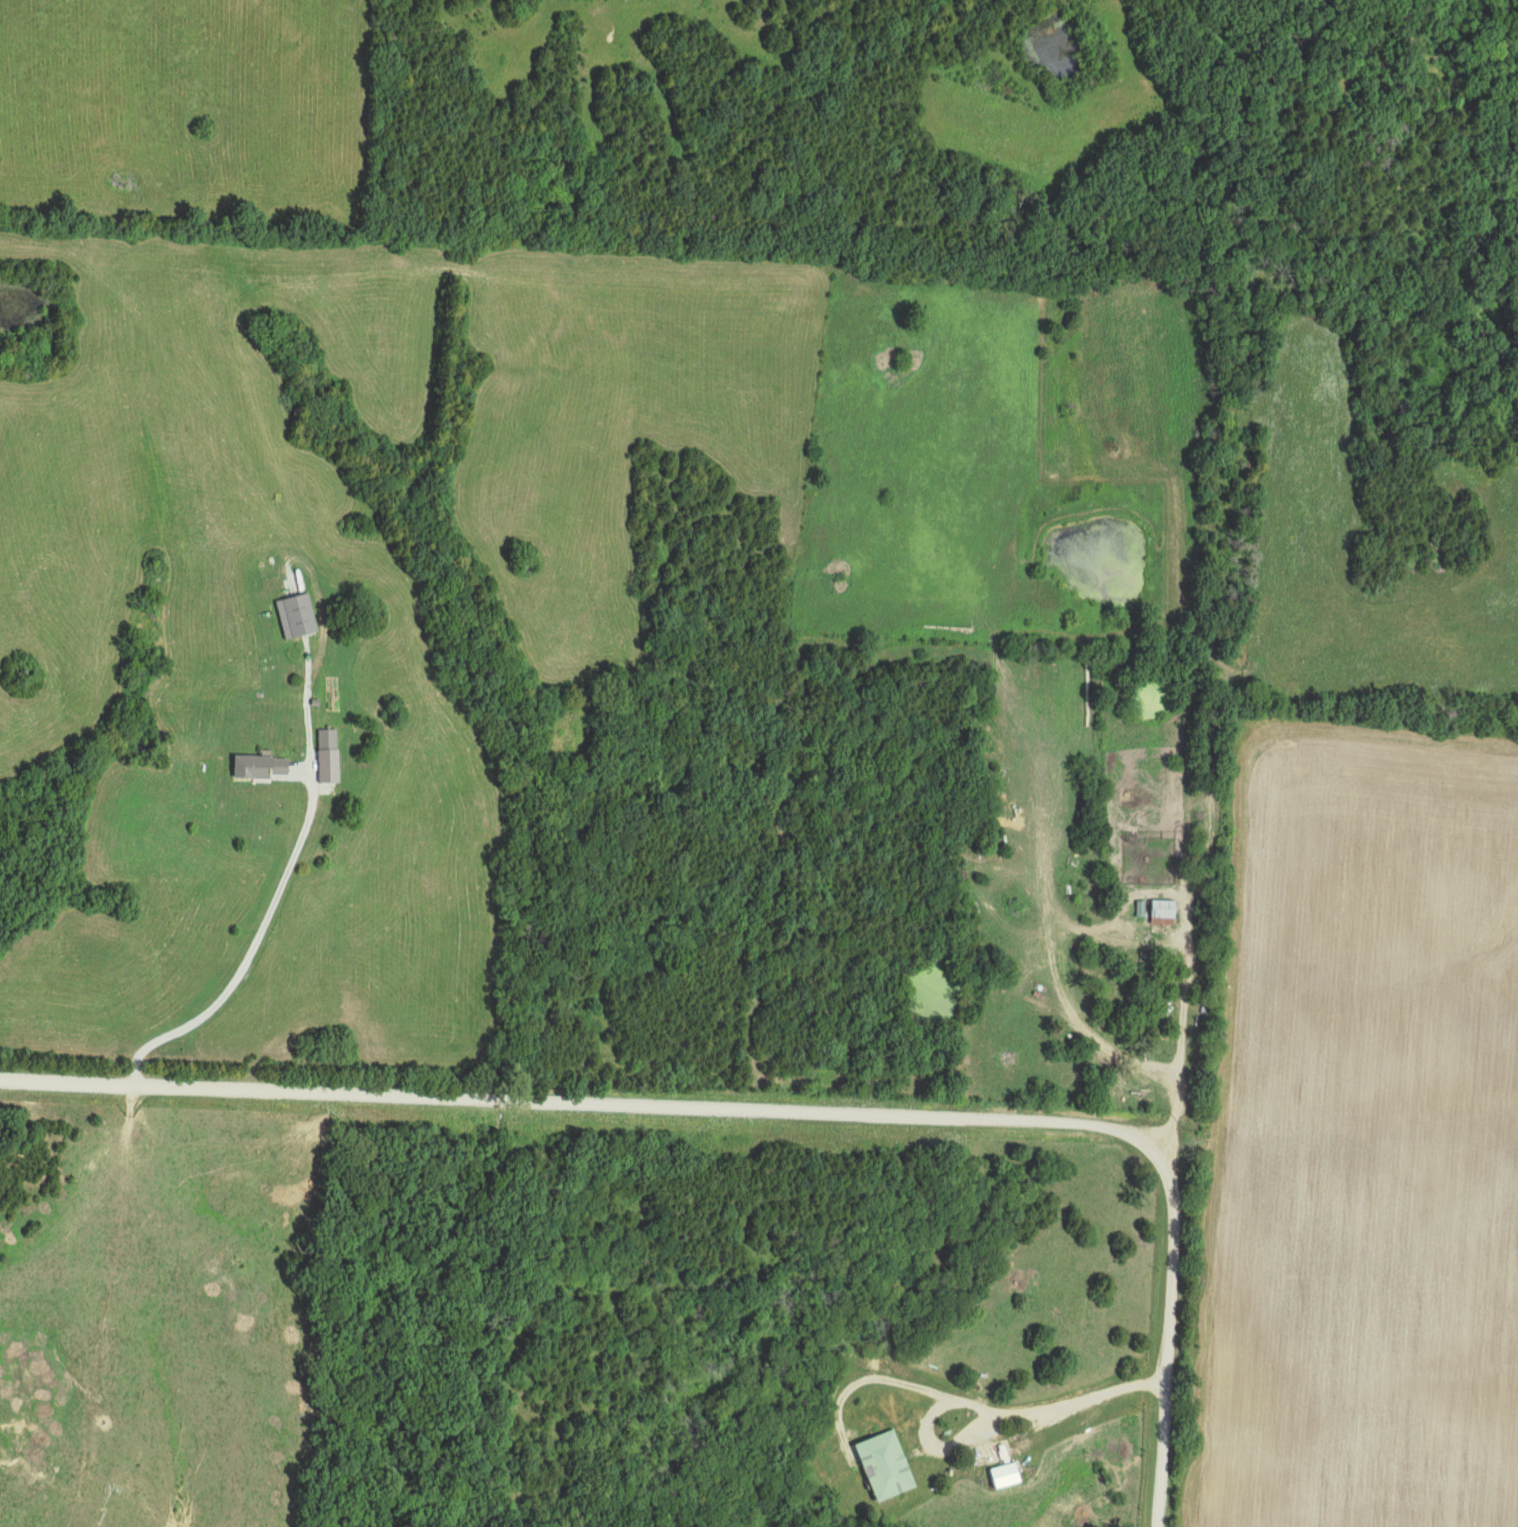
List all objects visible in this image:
building: (297, 617)
road: (1393, 728)
building: (328, 740)
building: (261, 769)
building: (1164, 914)
road: (1187, 937)
road: (246, 956)
road: (1107, 1008)
road: (586, 1104)
road: (1169, 1342)
road: (1046, 1409)
building: (886, 1466)

